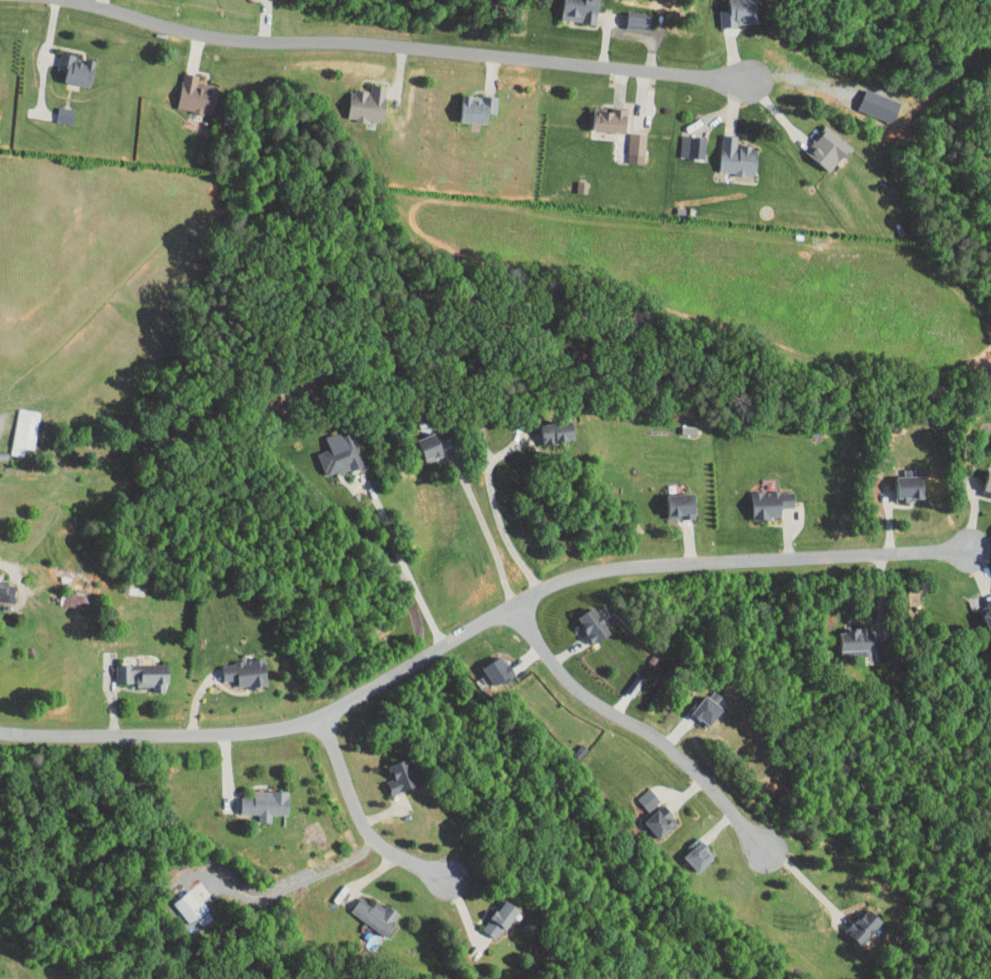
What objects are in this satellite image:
building: (571, 7)
building: (730, 9)
building: (630, 13)
road: (406, 44)
road: (48, 46)
building: (67, 62)
road: (798, 79)
building: (187, 88)
building: (358, 97)
building: (869, 100)
building: (467, 101)
building: (54, 109)
building: (601, 114)
building: (683, 140)
building: (626, 141)
building: (819, 142)
building: (727, 150)
building: (572, 180)
building: (13, 425)
building: (548, 426)
building: (425, 437)
building: (331, 450)
building: (982, 478)
building: (904, 482)
building: (760, 497)
building: (671, 498)
road: (494, 519)
road: (485, 536)
road: (1, 559)
road: (404, 562)
building: (2, 585)
building: (981, 607)
building: (584, 619)
road: (479, 624)
building: (846, 633)
building: (856, 650)
building: (488, 664)
building: (235, 667)
building: (134, 669)
building: (700, 703)
road: (646, 732)
building: (392, 771)
building: (637, 793)
building: (256, 798)
building: (650, 815)
road: (353, 821)
building: (687, 848)
road: (280, 879)
road: (823, 892)
building: (177, 901)
building: (366, 909)
building: (490, 913)
building: (855, 921)

